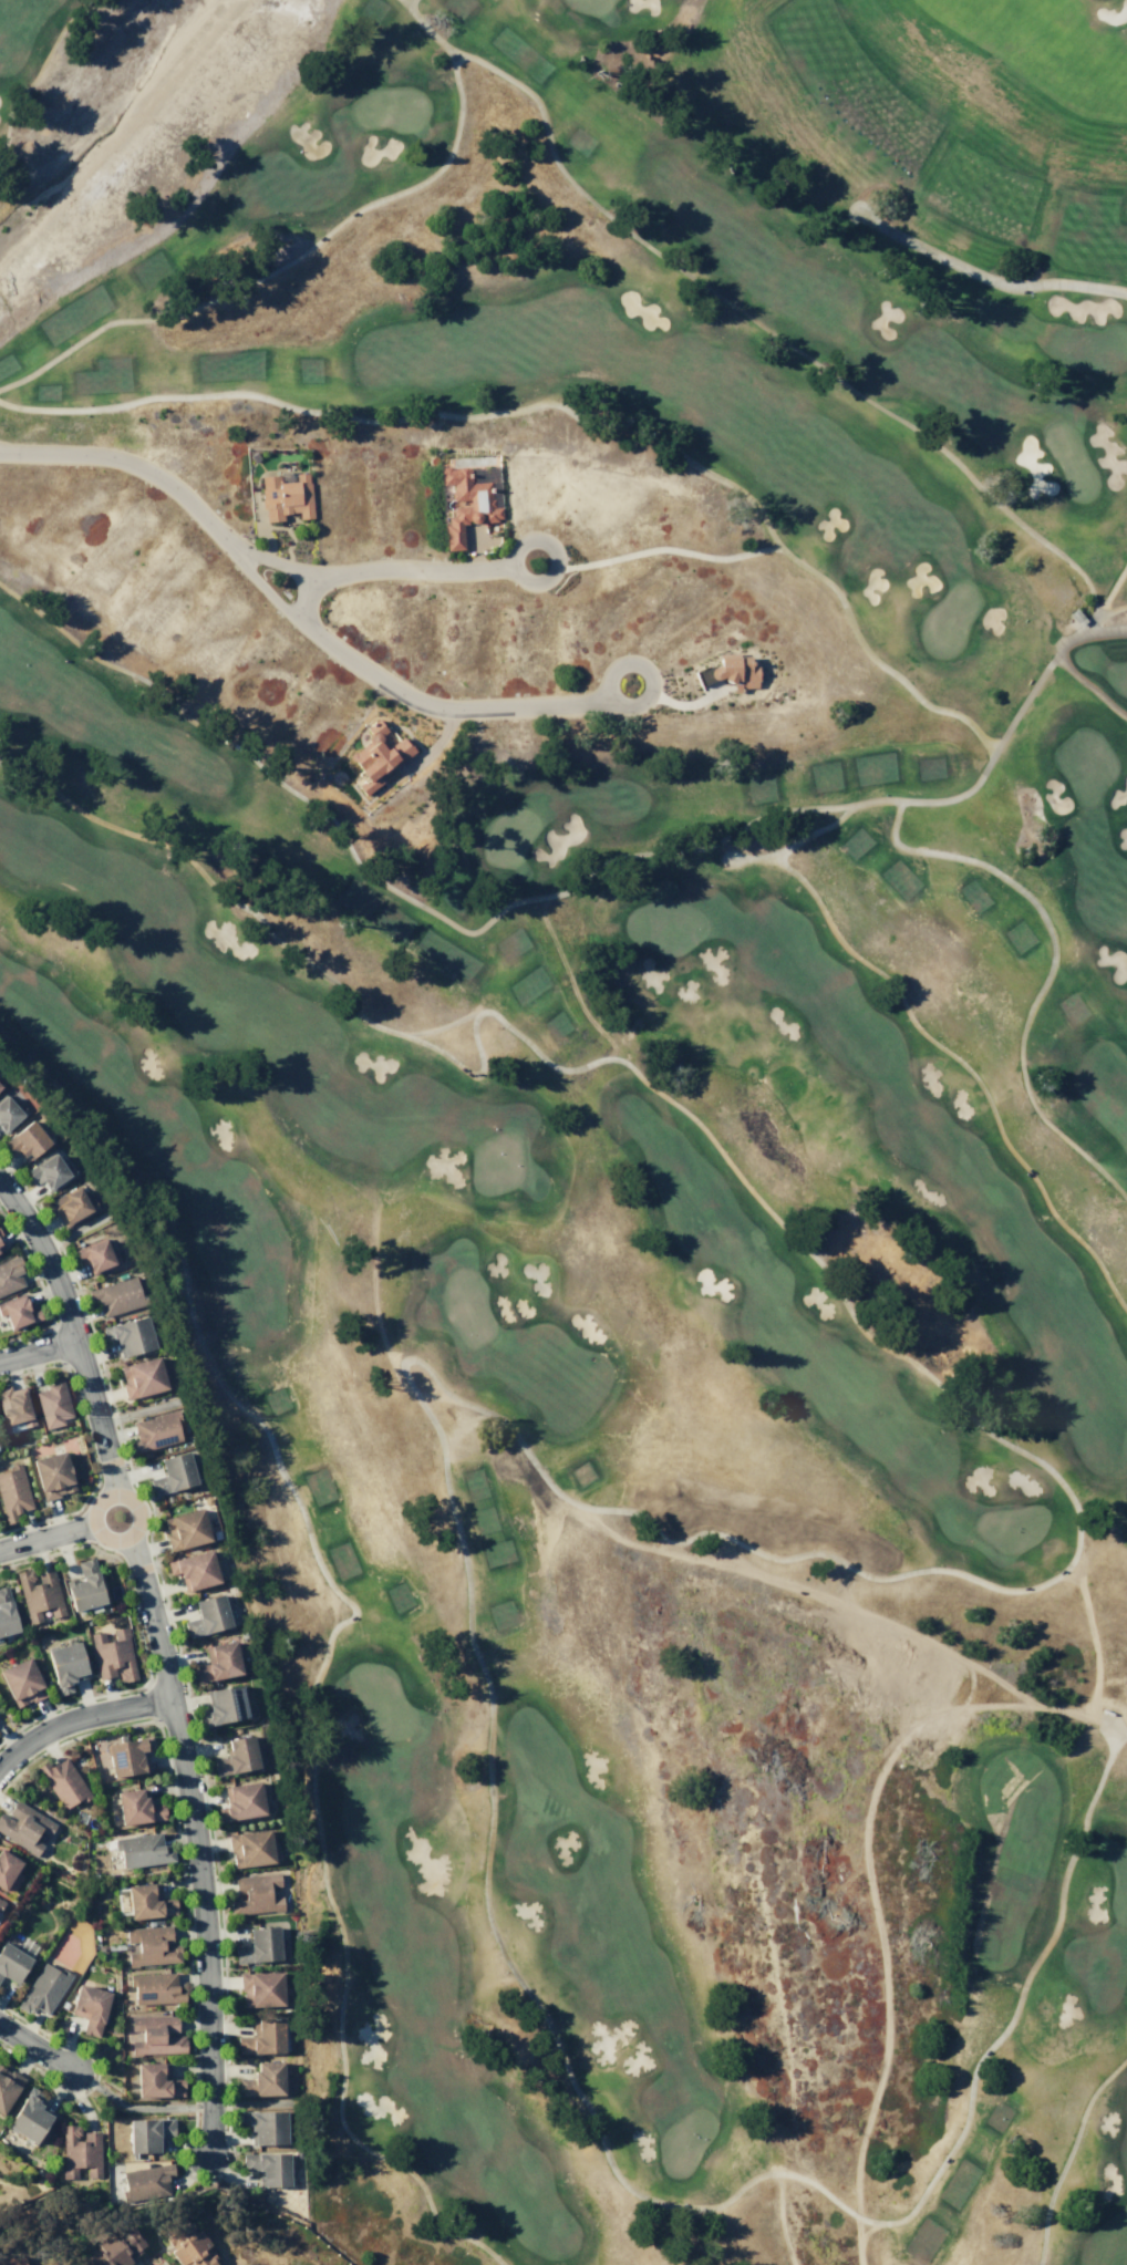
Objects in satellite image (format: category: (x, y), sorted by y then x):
road: (407, 2)
road: (433, 37)
road: (457, 60)
road: (35, 75)
park: (389, 107)
road: (269, 273)
road: (984, 278)
road: (767, 331)
park: (1085, 347)
road: (566, 408)
park: (567, 441)
park: (1069, 458)
building: (286, 497)
building: (466, 504)
road: (666, 548)
road: (554, 558)
road: (360, 569)
road: (304, 597)
road: (1105, 600)
road: (1110, 610)
road: (289, 612)
park: (947, 620)
park: (1104, 668)
building: (735, 671)
road: (1089, 686)
road: (649, 687)
building: (376, 755)
park: (507, 835)
road: (796, 841)
road: (551, 894)
park: (666, 924)
road: (855, 955)
road: (1047, 973)
building: (0, 1085)
building: (9, 1113)
building: (25, 1140)
park: (496, 1162)
road: (11, 1170)
building: (49, 1171)
road: (1033, 1180)
building: (70, 1206)
building: (1, 1245)
building: (0, 1249)
building: (95, 1256)
building: (9, 1274)
building: (116, 1295)
park: (466, 1307)
building: (18, 1311)
road: (72, 1331)
building: (128, 1335)
road: (38, 1351)
building: (141, 1377)
building: (52, 1403)
building: (14, 1406)
building: (155, 1430)
road: (87, 1447)
building: (144, 1454)
building: (173, 1472)
building: (52, 1475)
building: (12, 1493)
road: (91, 1517)
park: (658, 1523)
park: (1010, 1527)
building: (185, 1529)
road: (697, 1532)
road: (45, 1537)
building: (194, 1570)
building: (83, 1586)
building: (39, 1596)
building: (6, 1613)
building: (207, 1615)
road: (151, 1617)
road: (331, 1632)
building: (112, 1654)
building: (217, 1662)
building: (65, 1665)
building: (21, 1682)
park: (380, 1700)
building: (224, 1705)
road: (79, 1717)
building: (126, 1755)
building: (236, 1756)
building: (63, 1782)
building: (240, 1801)
building: (136, 1807)
road: (1084, 1813)
building: (24, 1826)
building: (249, 1847)
building: (142, 1850)
building: (7, 1868)
road: (869, 1881)
park: (1119, 1885)
building: (254, 1893)
building: (146, 1901)
building: (0, 1902)
road: (204, 1925)
building: (258, 1945)
building: (149, 1946)
building: (11, 1962)
building: (154, 1987)
building: (259, 1987)
building: (42, 1988)
building: (89, 2007)
building: (155, 2035)
building: (261, 2036)
road: (35, 2047)
building: (262, 2079)
building: (155, 2080)
building: (7, 2086)
road: (135, 2107)
building: (28, 2116)
building: (263, 2126)
building: (146, 2133)
park: (683, 2142)
building: (79, 2151)
road: (1067, 2153)
building: (268, 2168)
building: (146, 2181)
building: (187, 2244)
building: (114, 2248)
building: (11, 2261)

